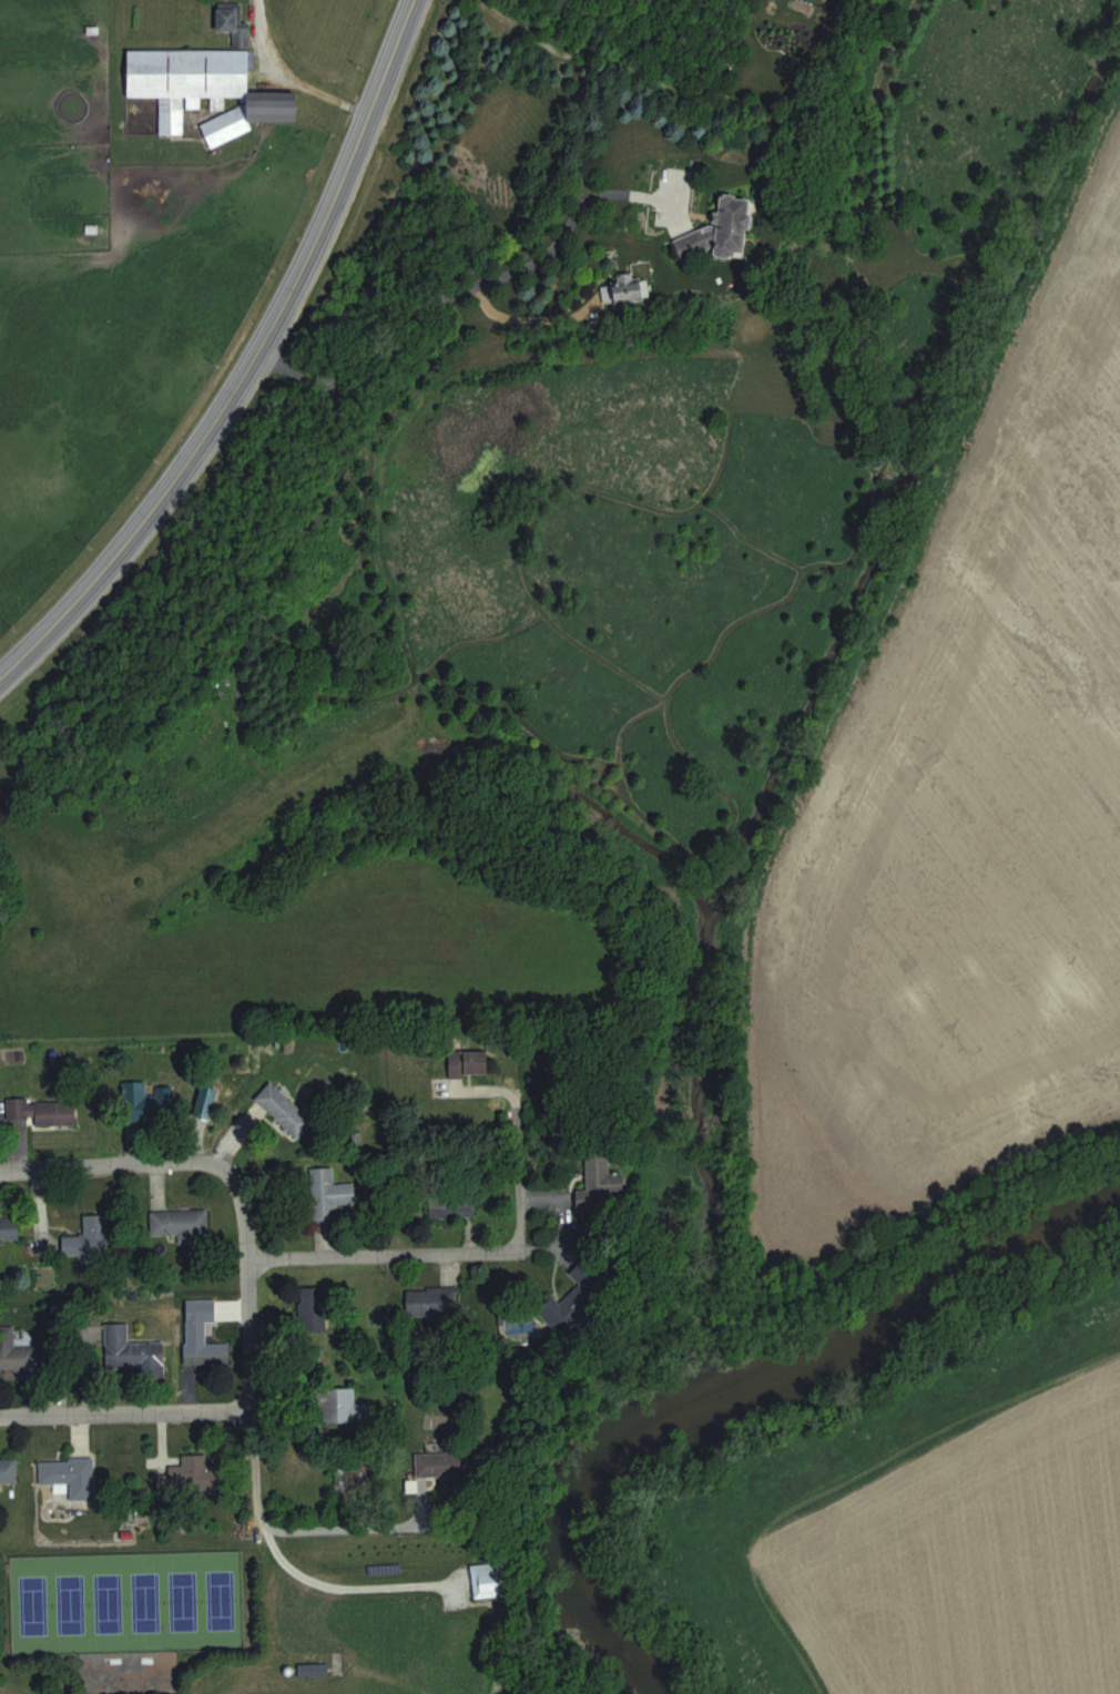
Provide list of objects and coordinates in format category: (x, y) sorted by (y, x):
building: (234, 21)
road: (286, 78)
building: (200, 91)
building: (722, 229)
road: (503, 279)
road: (250, 366)
building: (469, 1062)
building: (144, 1102)
building: (34, 1110)
building: (284, 1110)
road: (518, 1156)
road: (103, 1166)
road: (8, 1173)
building: (600, 1182)
building: (328, 1193)
building: (452, 1206)
building: (179, 1222)
building: (9, 1229)
building: (88, 1239)
road: (384, 1258)
building: (432, 1302)
building: (314, 1308)
building: (561, 1313)
road: (245, 1317)
building: (14, 1350)
building: (132, 1351)
building: (206, 1351)
river: (730, 1363)
building: (333, 1401)
road: (123, 1415)
building: (439, 1465)
building: (9, 1471)
building: (190, 1474)
building: (70, 1476)
road: (330, 1534)
park: (123, 1610)

